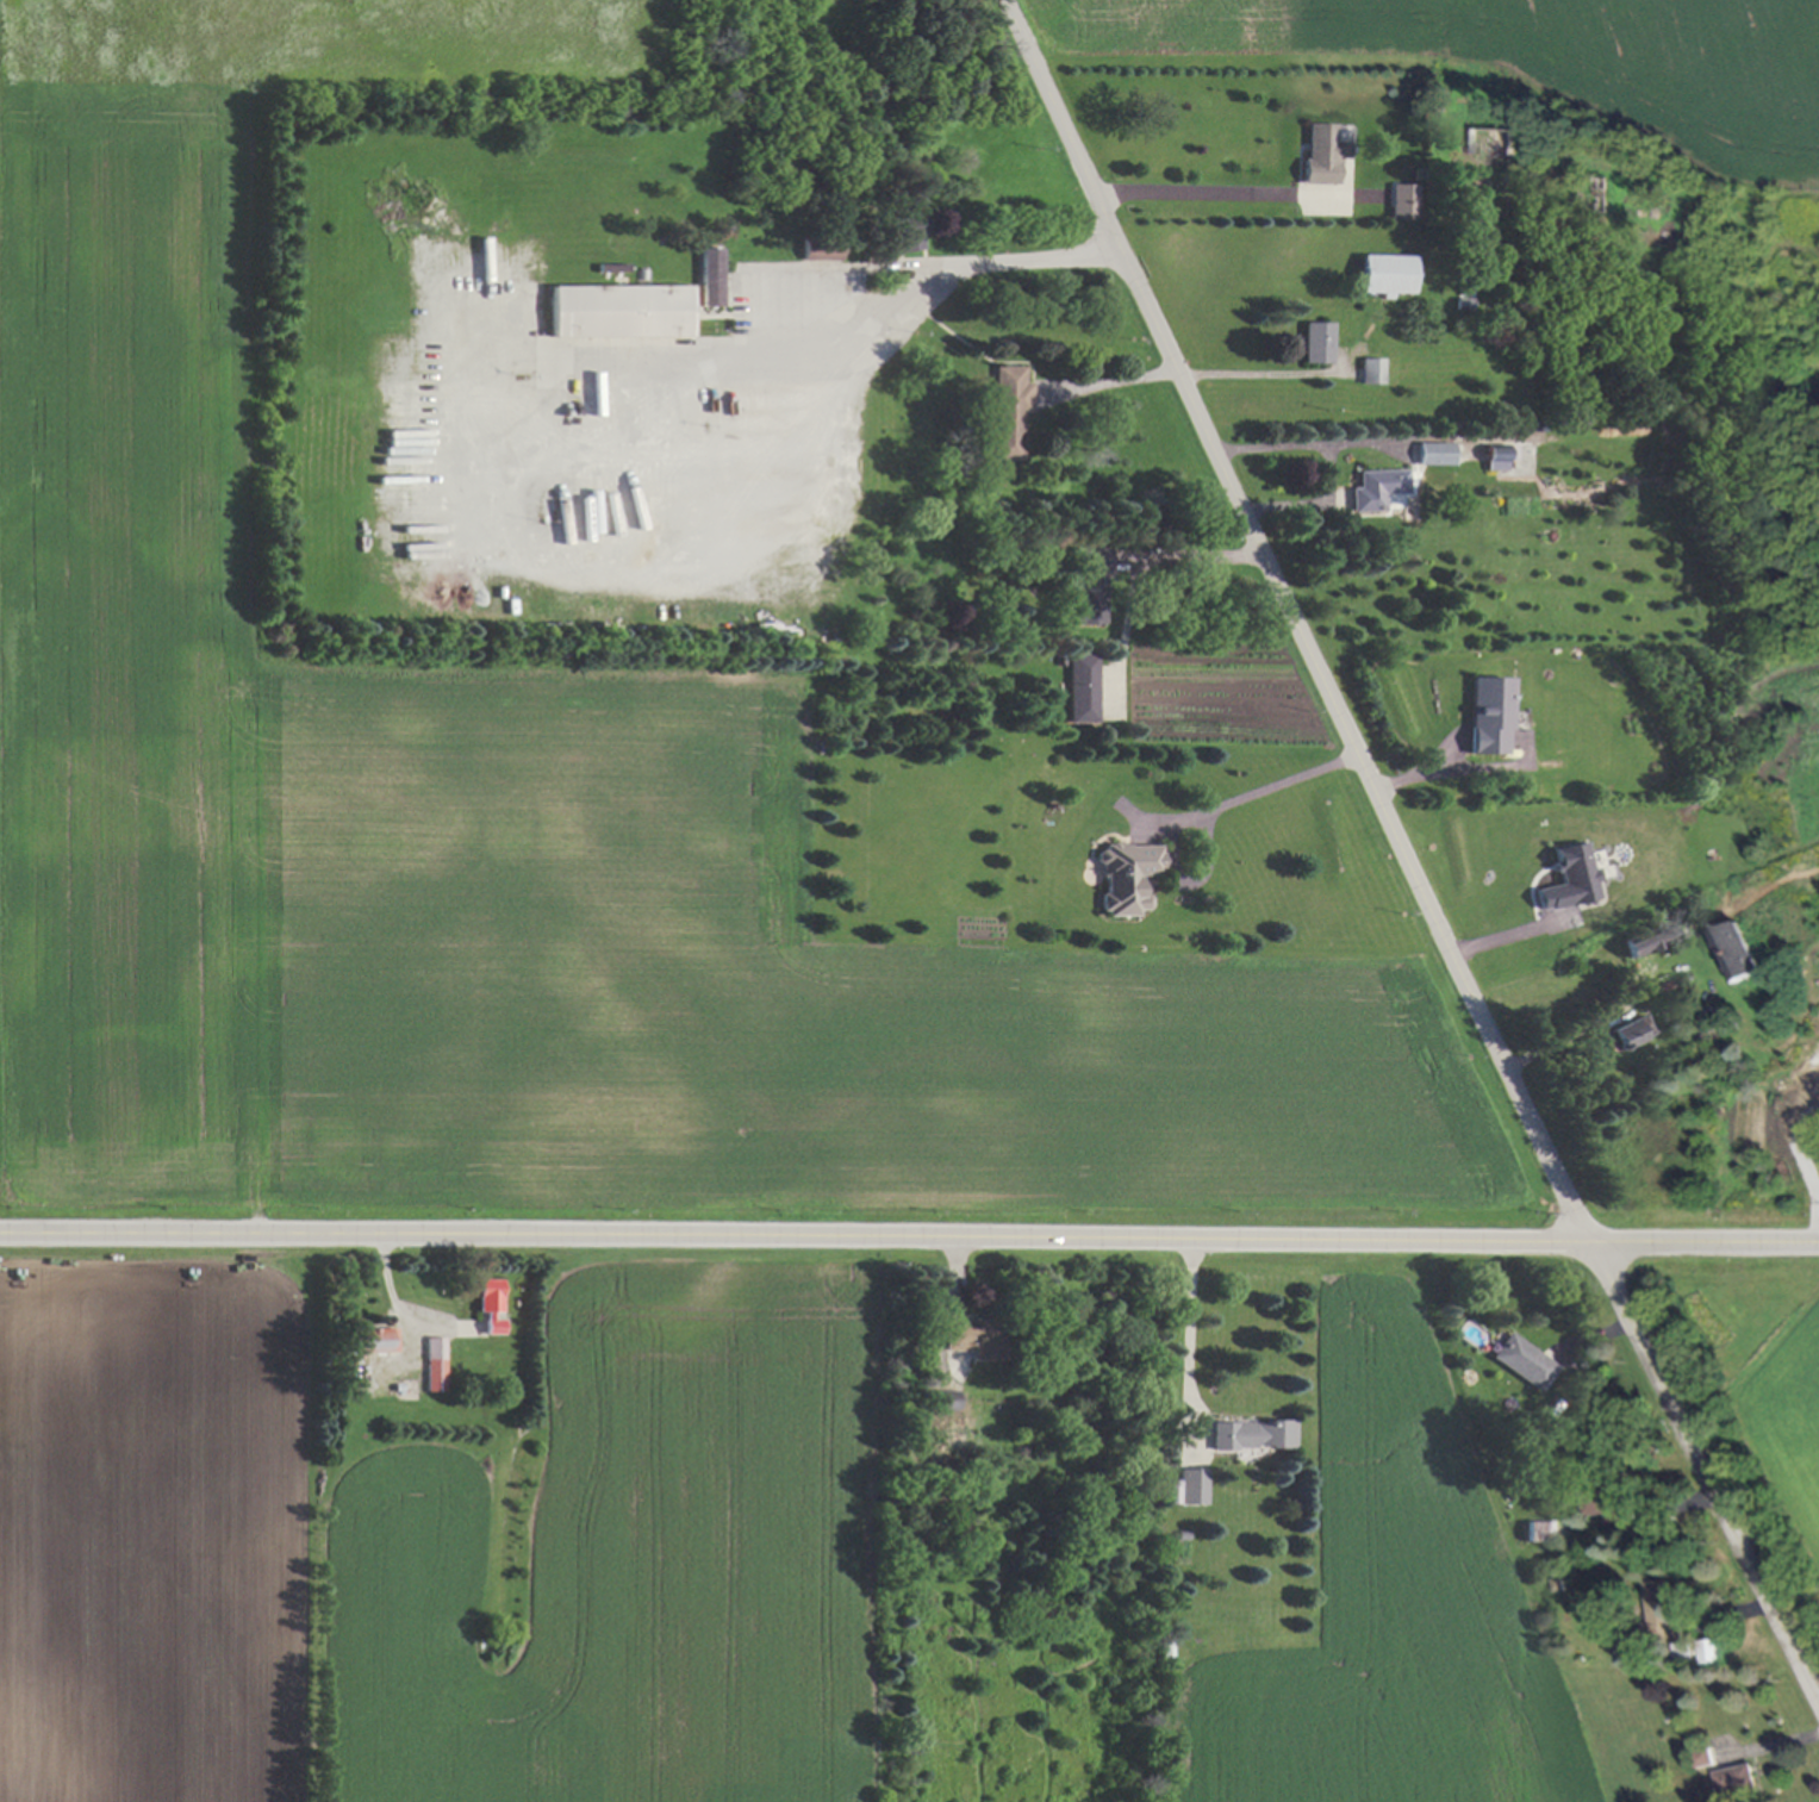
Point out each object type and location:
crop: (1530, 60)
building: (1491, 142)
building: (1321, 154)
road: (1200, 192)
building: (1402, 200)
building: (905, 233)
building: (818, 248)
building: (1387, 274)
building: (709, 276)
building: (619, 311)
road: (868, 322)
building: (1316, 342)
road: (1238, 369)
building: (1371, 370)
road: (1108, 381)
building: (1008, 411)
road: (1296, 447)
building: (1434, 453)
building: (1499, 456)
building: (1376, 487)
road: (1312, 505)
road: (1197, 554)
building: (1090, 585)
building: (1082, 687)
building: (1487, 715)
road: (1460, 767)
road: (1263, 790)
crop: (500, 804)
road: (1406, 859)
building: (1126, 875)
building: (1568, 878)
building: (1645, 939)
building: (1733, 952)
building: (1630, 1031)
road: (909, 1241)
building: (490, 1304)
road: (1190, 1329)
building: (968, 1335)
building: (375, 1340)
building: (1524, 1361)
building: (436, 1364)
building: (946, 1399)
building: (1251, 1434)
building: (1186, 1488)
building: (1609, 1508)
crop: (431, 1551)
building: (1658, 1610)
crop: (1389, 1611)
building: (1708, 1651)
building: (1734, 1781)

